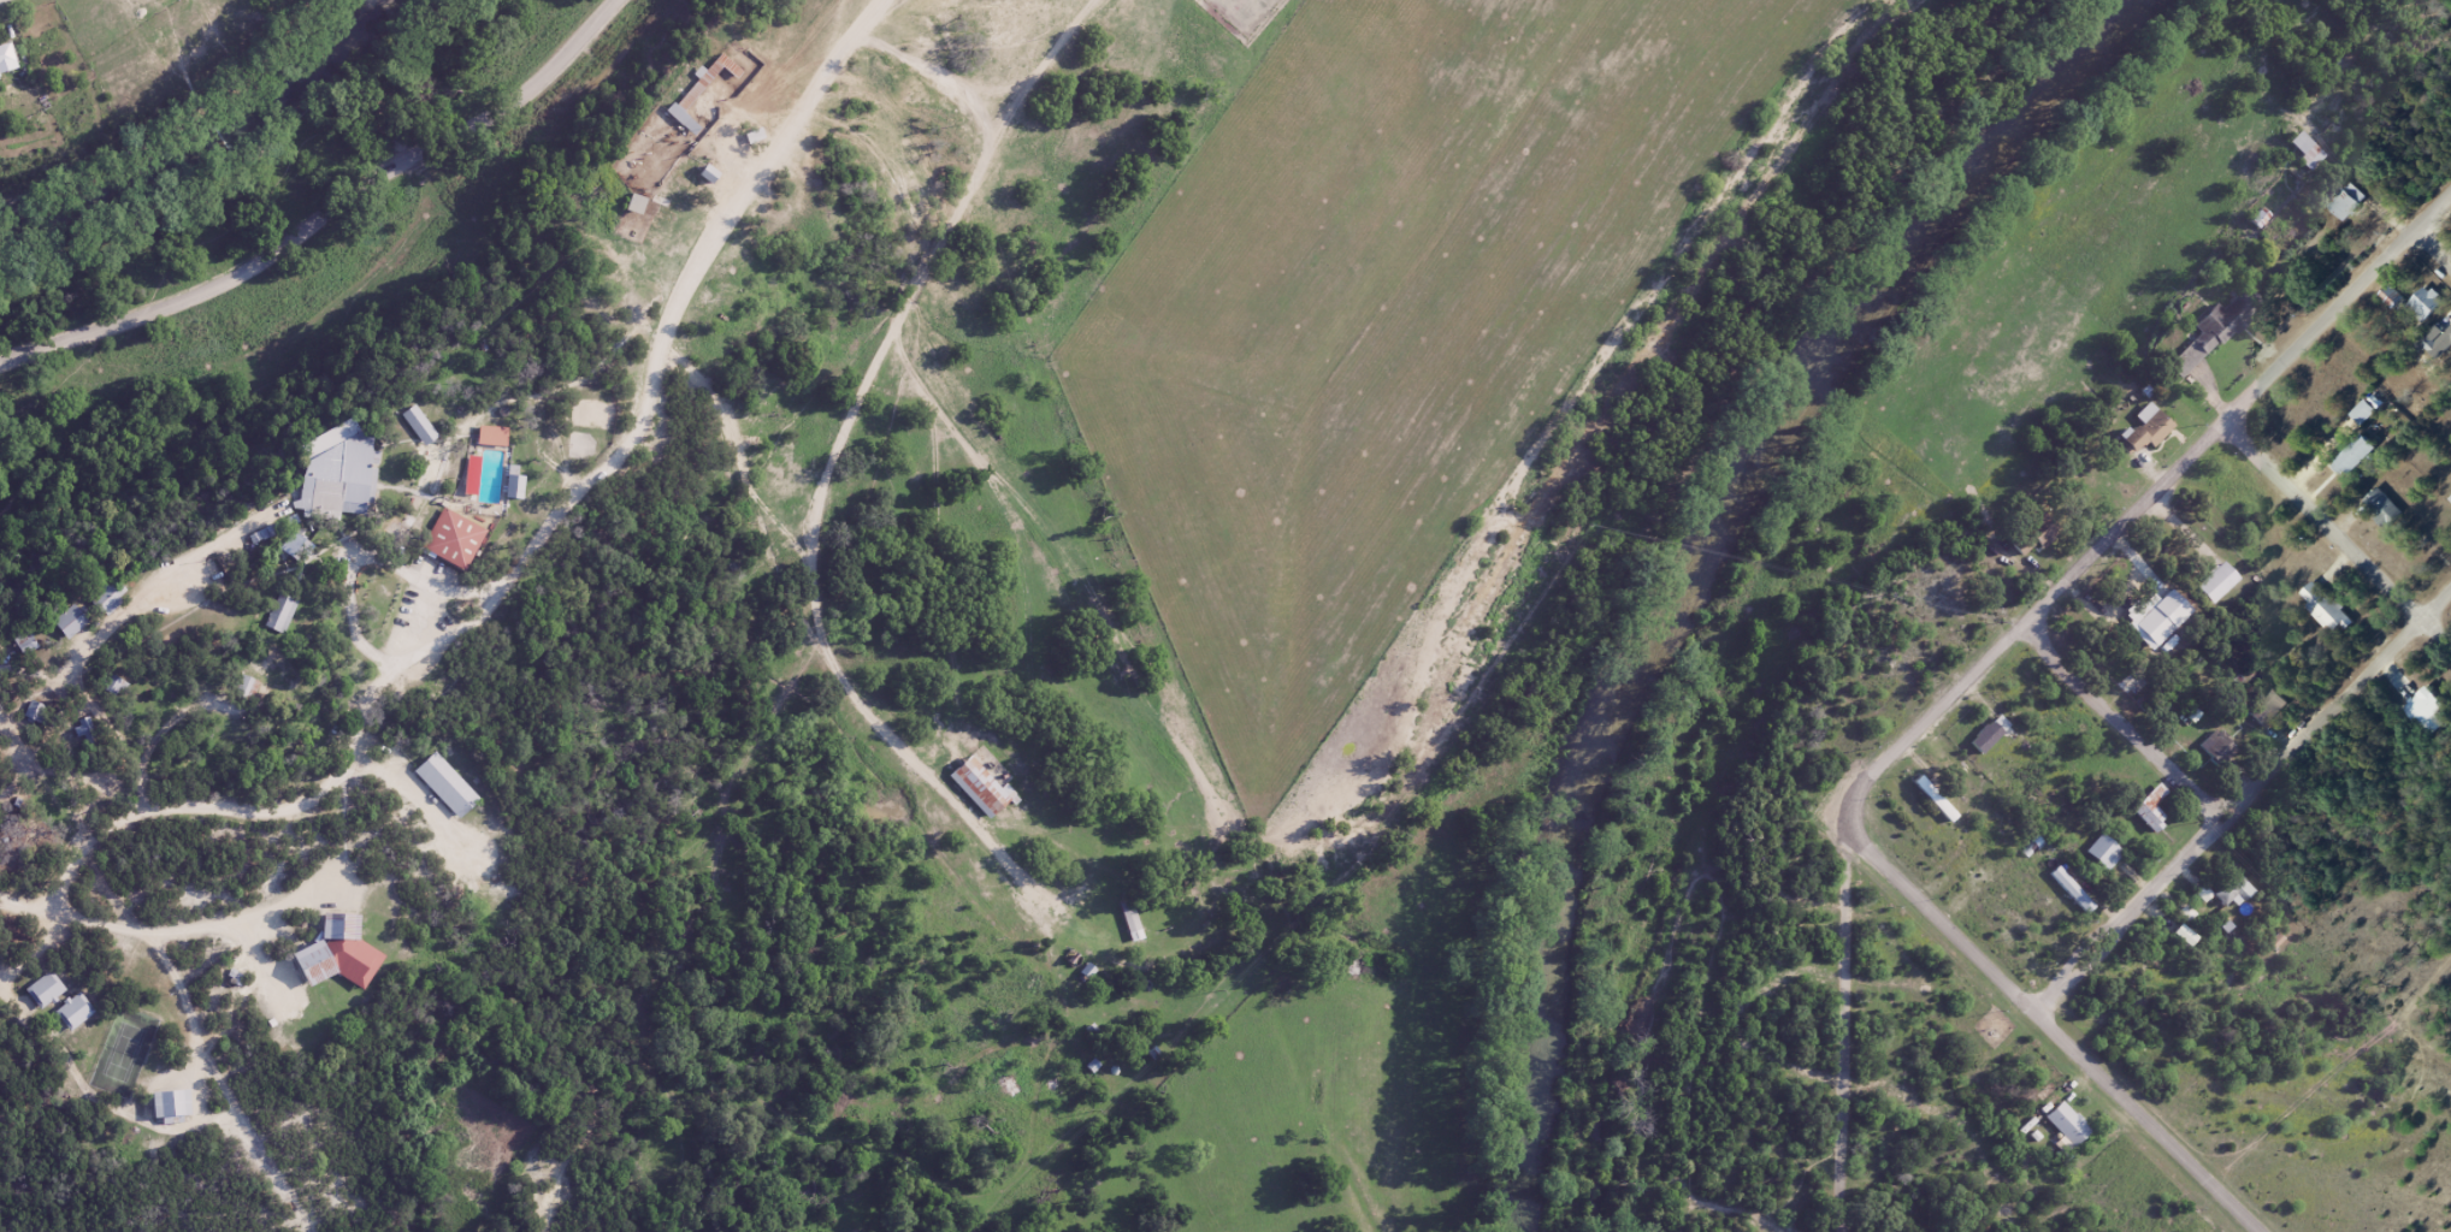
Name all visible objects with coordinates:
building: (1213, 10)
building: (697, 88)
river: (200, 141)
building: (709, 170)
building: (2346, 200)
building: (2357, 206)
road: (329, 213)
building: (656, 229)
road: (2438, 244)
building: (596, 271)
building: (2391, 296)
building: (703, 300)
building: (2433, 308)
building: (2220, 337)
building: (2440, 340)
road: (669, 367)
building: (2362, 413)
building: (598, 416)
road: (856, 419)
building: (2154, 433)
building: (430, 436)
building: (489, 436)
building: (502, 445)
building: (2352, 456)
building: (2364, 460)
building: (352, 484)
building: (510, 486)
building: (524, 497)
building: (2392, 510)
road: (2145, 513)
building: (2036, 533)
road: (2338, 543)
building: (463, 547)
building: (2059, 550)
river: (1706, 558)
building: (2228, 587)
building: (106, 597)
building: (2333, 609)
building: (280, 615)
building: (66, 622)
building: (2162, 627)
building: (243, 686)
building: (2266, 706)
building: (2433, 716)
building: (2275, 717)
road: (2132, 724)
building: (1986, 735)
building: (2000, 740)
building: (2228, 748)
building: (460, 794)
building: (990, 794)
building: (1941, 799)
road: (2250, 801)
building: (2149, 807)
building: (2161, 815)
building: (2101, 852)
building: (2113, 859)
building: (2239, 890)
building: (2080, 896)
building: (1130, 922)
building: (348, 966)
building: (55, 990)
road: (1697, 1000)
building: (84, 1015)
road: (2059, 1021)
road: (1836, 1026)
building: (166, 1103)
building: (179, 1112)
building: (2077, 1130)

